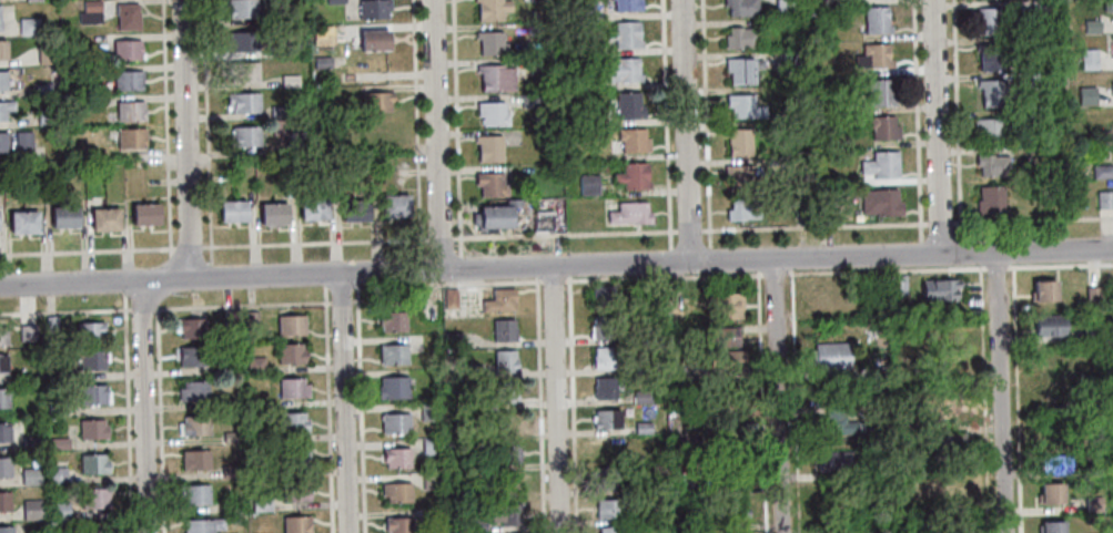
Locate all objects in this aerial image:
building: (334, 1)
building: (627, 4)
building: (782, 4)
building: (1039, 6)
building: (1107, 6)
building: (741, 7)
building: (241, 8)
building: (373, 9)
building: (492, 9)
building: (577, 10)
building: (90, 12)
building: (535, 14)
building: (127, 17)
building: (284, 17)
building: (876, 20)
building: (989, 21)
building: (29, 25)
building: (1091, 25)
building: (0, 27)
building: (322, 34)
building: (625, 35)
building: (741, 38)
building: (374, 40)
building: (242, 41)
building: (490, 42)
building: (1045, 42)
building: (583, 47)
building: (293, 49)
building: (2, 50)
building: (127, 50)
building: (45, 54)
building: (873, 57)
building: (992, 57)
building: (1087, 59)
building: (790, 60)
building: (322, 62)
building: (537, 66)
building: (620, 70)
building: (739, 70)
building: (243, 72)
building: (495, 78)
building: (1028, 79)
building: (128, 80)
building: (2, 81)
building: (290, 81)
building: (581, 82)
building: (42, 89)
building: (1111, 89)
building: (991, 92)
building: (879, 93)
building: (1086, 95)
building: (530, 100)
building: (376, 101)
building: (243, 102)
building: (81, 104)
building: (628, 105)
building: (743, 106)
building: (840, 106)
building: (6, 109)
building: (130, 111)
building: (277, 111)
building: (790, 111)
building: (492, 113)
building: (45, 116)
building: (588, 116)
building: (1112, 124)
road: (666, 125)
road: (166, 126)
building: (277, 126)
road: (417, 126)
road: (457, 126)
road: (957, 126)
building: (882, 127)
road: (917, 127)
road: (935, 127)
road: (707, 130)
building: (988, 130)
road: (208, 131)
road: (686, 131)
road: (435, 135)
building: (1100, 135)
building: (243, 136)
building: (131, 137)
building: (22, 139)
road: (185, 140)
building: (294, 140)
building: (633, 140)
building: (738, 141)
building: (2, 142)
building: (488, 148)
building: (881, 164)
building: (991, 165)
building: (1077, 170)
building: (1102, 171)
building: (633, 176)
building: (740, 176)
building: (490, 184)
building: (588, 184)
building: (990, 199)
building: (1105, 199)
building: (880, 202)
building: (402, 205)
building: (388, 206)
building: (320, 208)
building: (306, 209)
building: (239, 211)
building: (347, 211)
building: (360, 211)
building: (739, 211)
building: (800, 211)
building: (225, 212)
building: (629, 213)
building: (151, 214)
building: (265, 214)
building: (280, 214)
building: (138, 215)
building: (58, 217)
building: (71, 217)
building: (494, 217)
building: (98, 219)
building: (111, 219)
building: (543, 222)
building: (17, 223)
building: (30, 223)
road: (782, 229)
road: (441, 236)
road: (315, 240)
road: (189, 245)
road: (87, 248)
road: (670, 257)
road: (461, 262)
road: (421, 263)
road: (556, 266)
road: (172, 267)
road: (950, 268)
road: (569, 269)
road: (211, 270)
road: (775, 270)
road: (536, 271)
road: (664, 275)
street lamp: (540, 277)
road: (553, 278)
road: (357, 279)
road: (325, 280)
road: (484, 281)
building: (897, 284)
road: (124, 286)
building: (676, 287)
building: (939, 289)
building: (1043, 291)
road: (428, 293)
building: (605, 295)
building: (1093, 296)
road: (342, 299)
road: (391, 299)
building: (452, 299)
parking lot: (471, 300)
building: (502, 300)
road: (242, 303)
building: (726, 305)
road: (143, 306)
road: (67, 310)
building: (393, 319)
building: (53, 321)
building: (226, 321)
building: (253, 321)
building: (292, 324)
building: (1049, 325)
building: (193, 327)
building: (604, 327)
building: (506, 329)
building: (92, 330)
building: (28, 331)
building: (4, 335)
building: (948, 335)
building: (1095, 335)
building: (724, 336)
building: (454, 341)
building: (293, 352)
building: (395, 352)
building: (831, 355)
building: (193, 356)
building: (604, 358)
building: (90, 359)
building: (507, 359)
building: (726, 360)
building: (2, 363)
building: (256, 363)
building: (1050, 366)
building: (642, 369)
building: (475, 372)
building: (63, 375)
building: (394, 387)
building: (606, 387)
building: (295, 388)
building: (194, 390)
building: (507, 391)
road: (999, 392)
building: (92, 394)
road: (777, 396)
building: (3, 398)
building: (642, 399)
building: (231, 400)
road: (555, 400)
road: (982, 400)
road: (796, 401)
road: (762, 402)
building: (952, 402)
road: (343, 403)
road: (540, 403)
road: (573, 403)
road: (144, 406)
road: (328, 408)
road: (361, 408)
building: (55, 409)
road: (129, 411)
building: (431, 411)
road: (161, 419)
building: (607, 419)
building: (295, 421)
building: (834, 421)
building: (396, 422)
building: (506, 422)
building: (194, 426)
building: (91, 429)
building: (644, 429)
building: (3, 433)
building: (232, 435)
building: (949, 442)
building: (30, 443)
building: (58, 444)
building: (433, 444)
building: (607, 448)
building: (509, 453)
building: (296, 457)
building: (397, 457)
building: (198, 459)
building: (833, 462)
building: (92, 464)
building: (1054, 465)
building: (4, 467)
building: (233, 470)
building: (57, 475)
building: (30, 476)
building: (729, 476)
building: (435, 479)
building: (606, 479)
building: (507, 482)
building: (398, 491)
building: (296, 492)
building: (198, 493)
building: (477, 493)
building: (1050, 493)
building: (94, 499)
building: (4, 501)
building: (262, 503)
building: (1093, 503)
building: (231, 504)
building: (608, 508)
building: (729, 508)
building: (31, 510)
building: (435, 510)
building: (59, 511)
building: (507, 513)
building: (477, 523)
building: (203, 524)
building: (299, 524)
building: (397, 524)
building: (95, 527)
building: (1051, 527)
building: (610, 529)
building: (6, 530)

